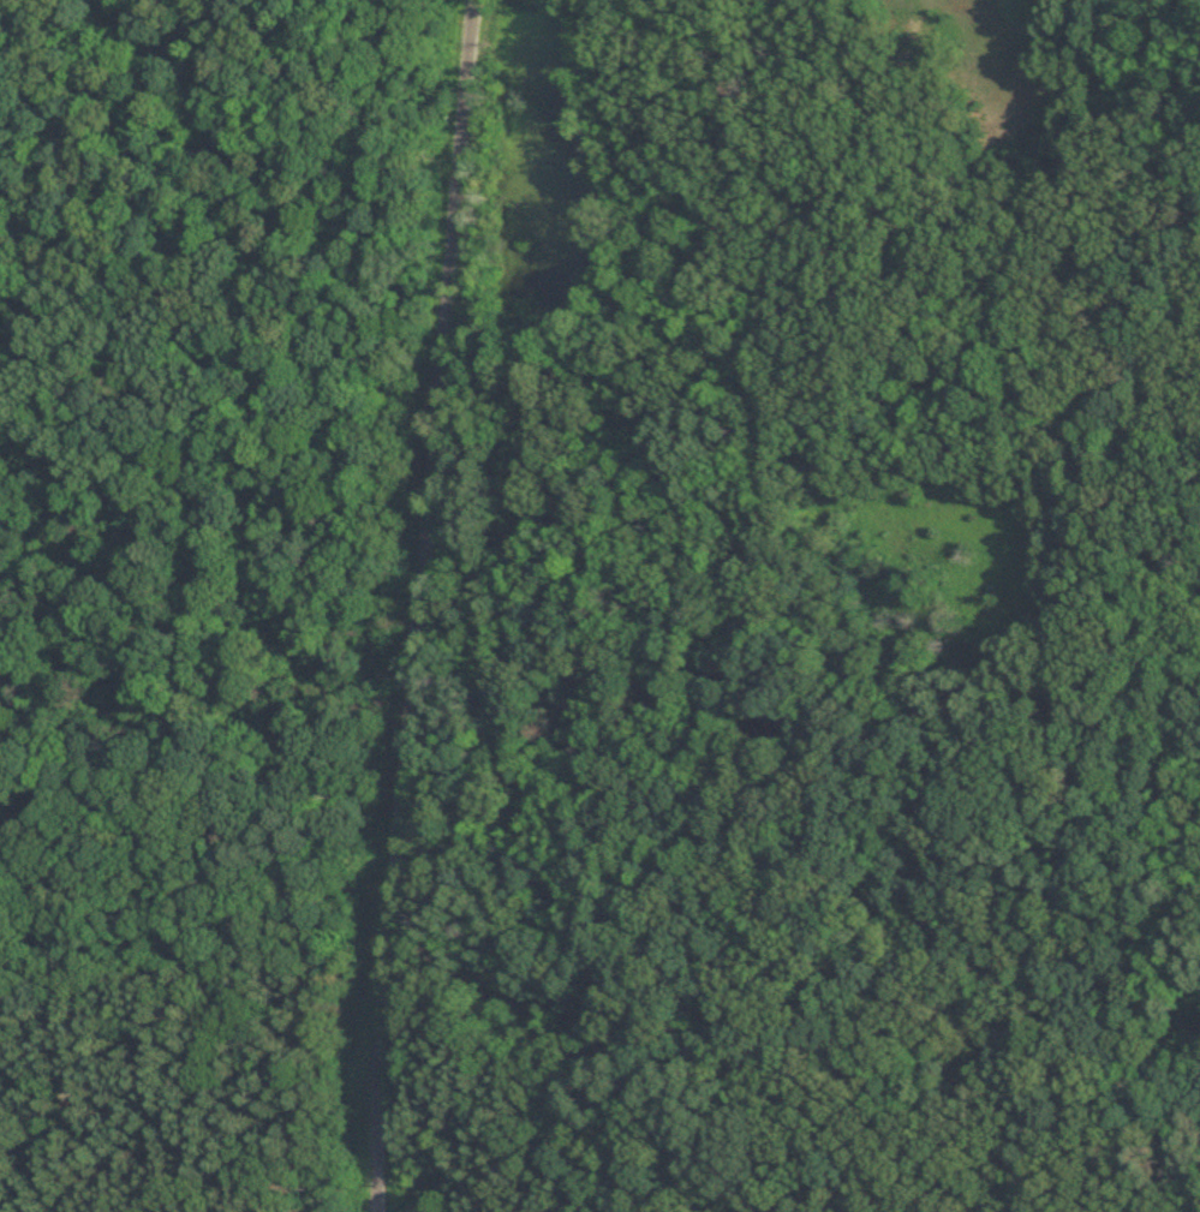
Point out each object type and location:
road: (416, 605)

